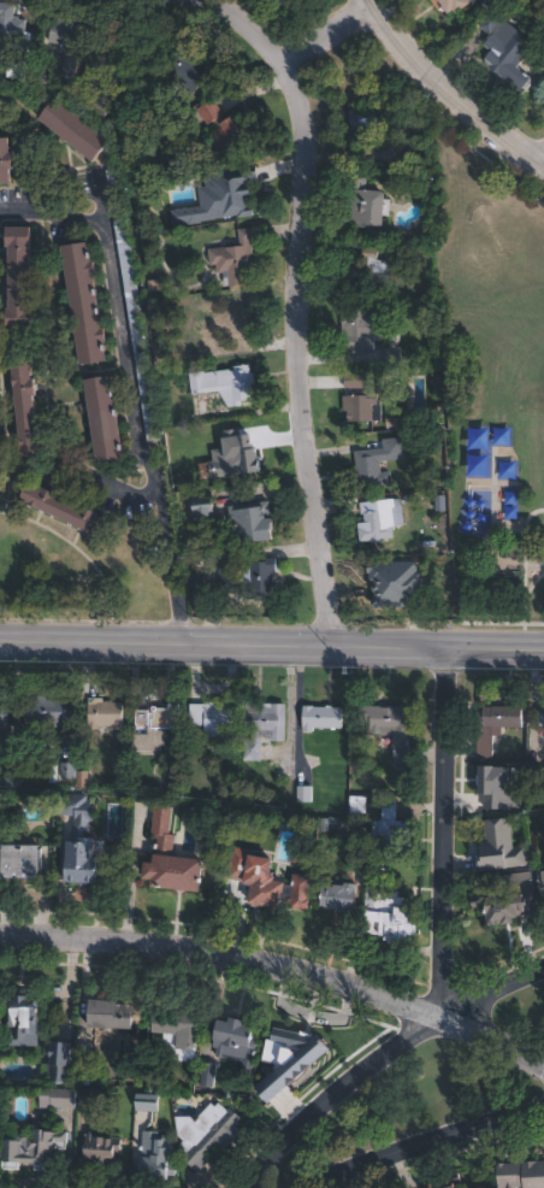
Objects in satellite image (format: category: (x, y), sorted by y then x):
building: (274, 4)
building: (454, 5)
road: (246, 23)
road: (324, 31)
building: (16, 37)
building: (69, 42)
building: (119, 49)
building: (510, 54)
building: (46, 69)
building: (182, 73)
road: (450, 87)
building: (372, 118)
building: (73, 129)
building: (224, 133)
building: (5, 158)
building: (112, 181)
building: (221, 195)
building: (363, 204)
building: (232, 259)
building: (362, 272)
building: (16, 280)
building: (82, 305)
building: (226, 322)
building: (137, 327)
building: (368, 334)
road: (302, 351)
building: (223, 383)
road: (124, 386)
building: (355, 408)
building: (24, 411)
building: (100, 419)
building: (240, 446)
building: (374, 464)
building: (200, 506)
building: (61, 512)
building: (252, 521)
building: (379, 521)
building: (195, 577)
building: (256, 582)
building: (390, 587)
road: (272, 647)
building: (46, 711)
building: (104, 713)
building: (320, 717)
building: (212, 718)
building: (2, 721)
building: (540, 723)
building: (154, 725)
building: (390, 725)
building: (262, 729)
building: (492, 731)
building: (61, 771)
building: (11, 772)
building: (537, 777)
building: (357, 801)
building: (335, 823)
building: (390, 829)
road: (449, 834)
building: (261, 837)
building: (81, 841)
building: (359, 843)
building: (499, 846)
building: (18, 860)
building: (168, 865)
building: (540, 883)
building: (265, 890)
building: (300, 892)
building: (338, 895)
building: (509, 899)
building: (384, 911)
road: (278, 972)
road: (492, 994)
building: (108, 1016)
building: (19, 1021)
building: (175, 1033)
building: (232, 1039)
building: (288, 1054)
building: (90, 1060)
building: (55, 1063)
building: (206, 1072)
park: (447, 1082)
building: (90, 1095)
road: (342, 1098)
building: (55, 1099)
building: (146, 1102)
building: (206, 1134)
building: (30, 1146)
road: (436, 1148)
building: (100, 1154)
building: (154, 1159)
building: (521, 1177)
building: (447, 1182)

